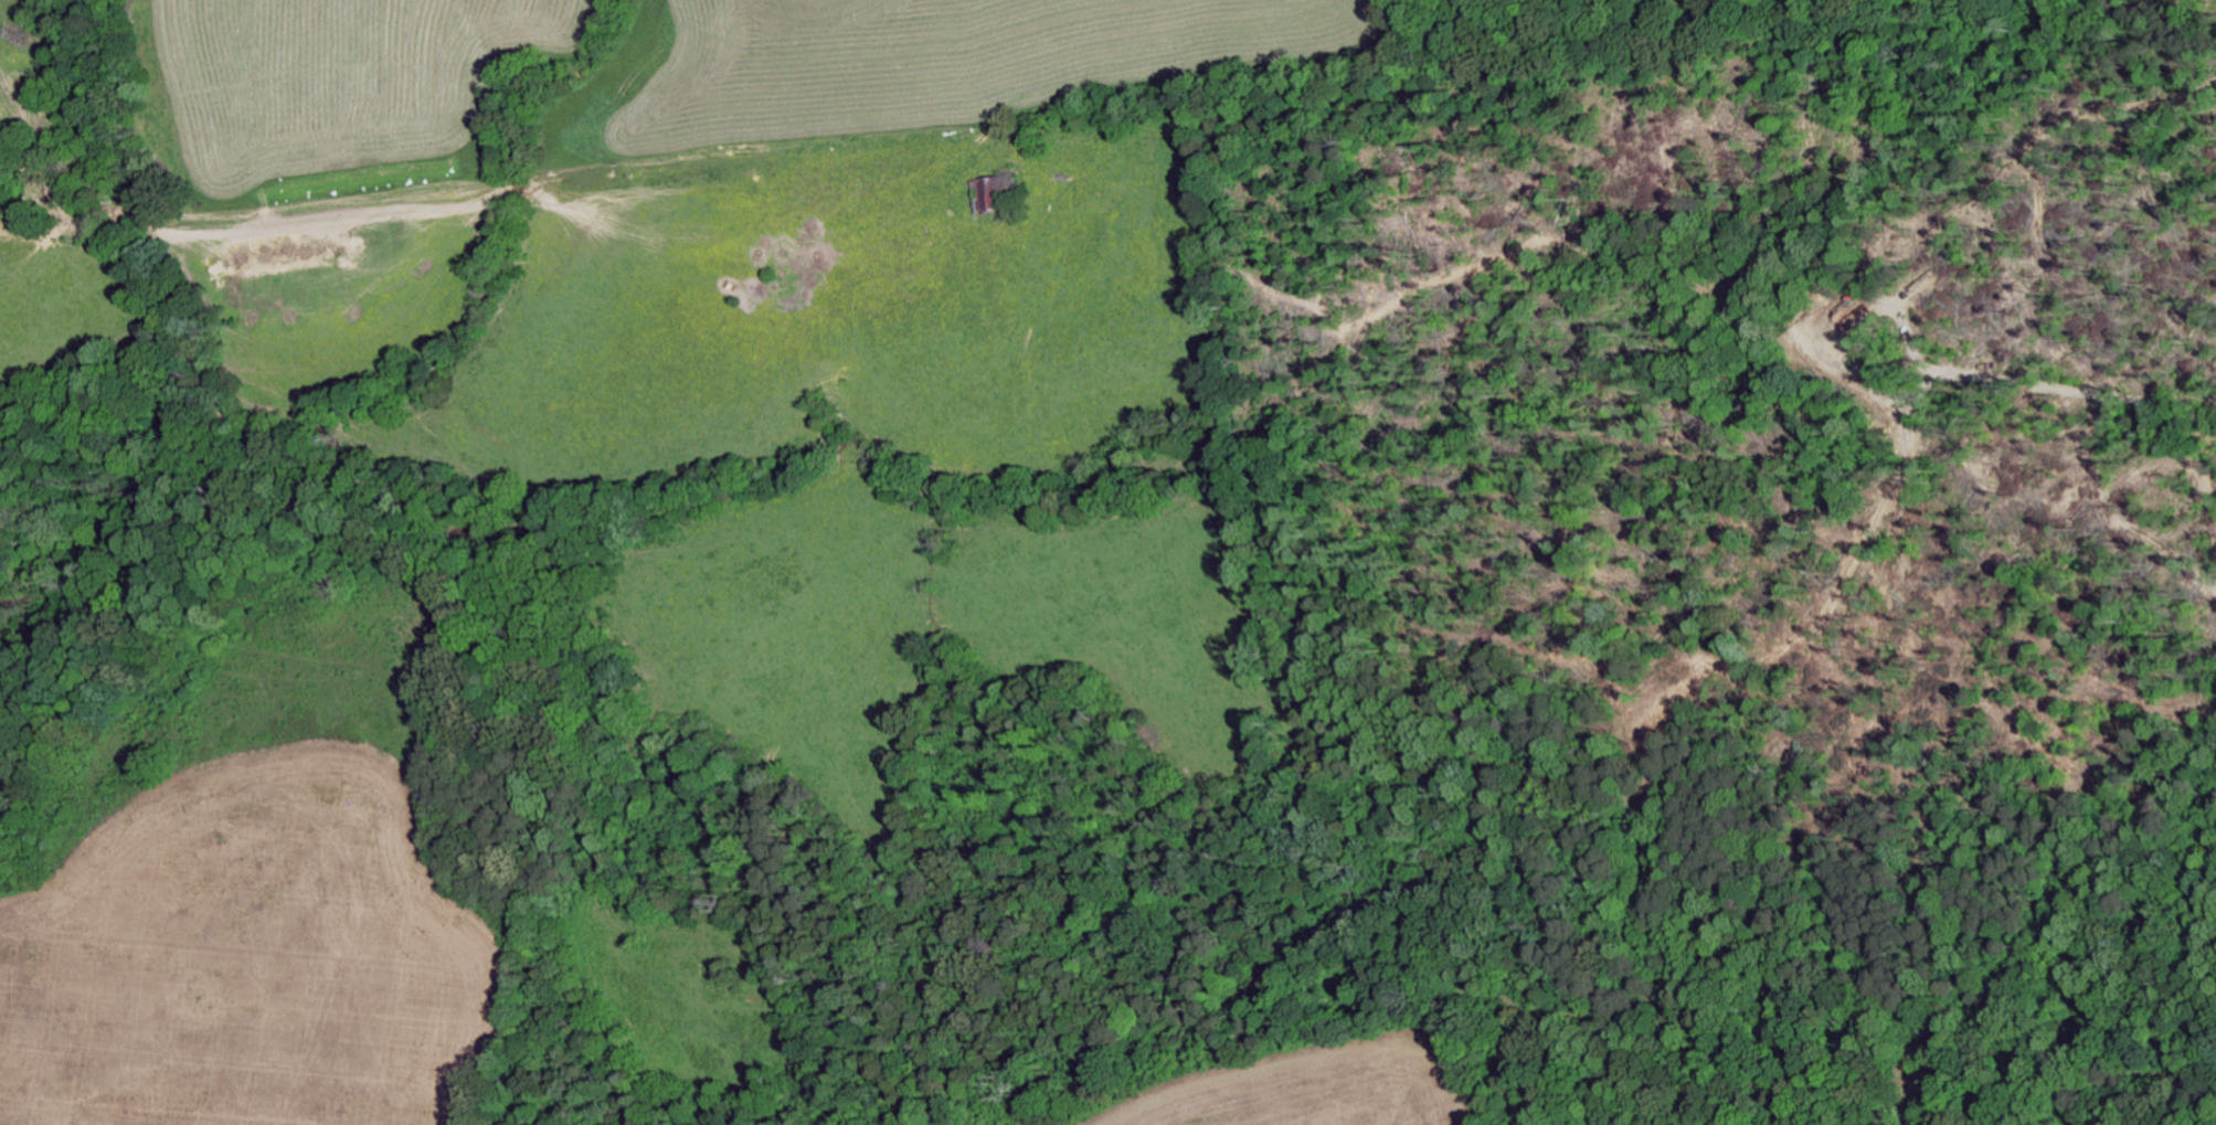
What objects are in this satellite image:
road: (70, 231)

